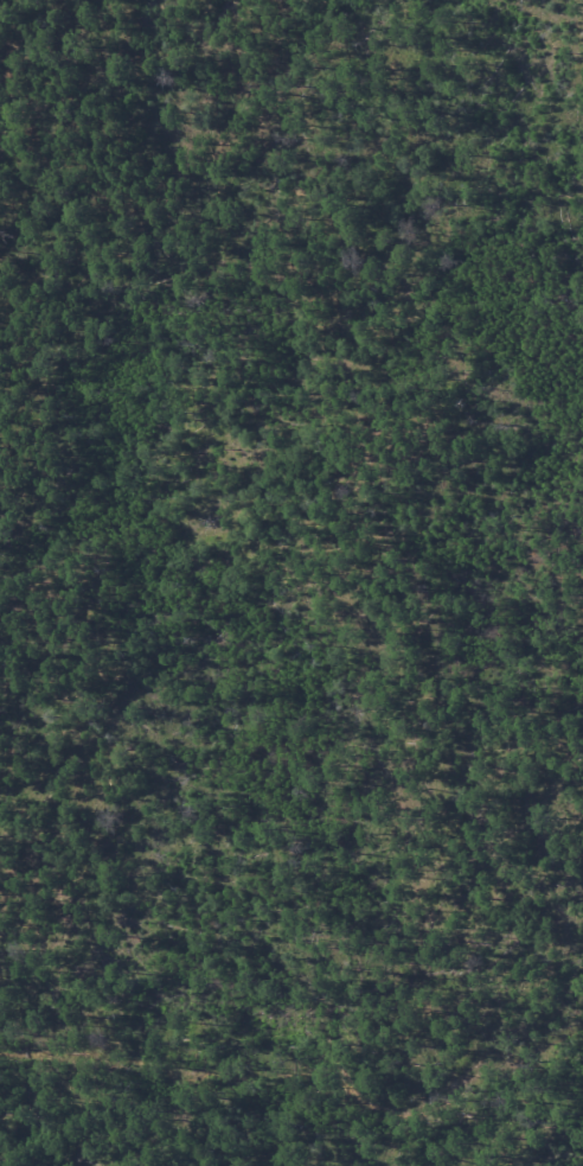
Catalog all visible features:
park: (291, 582)

